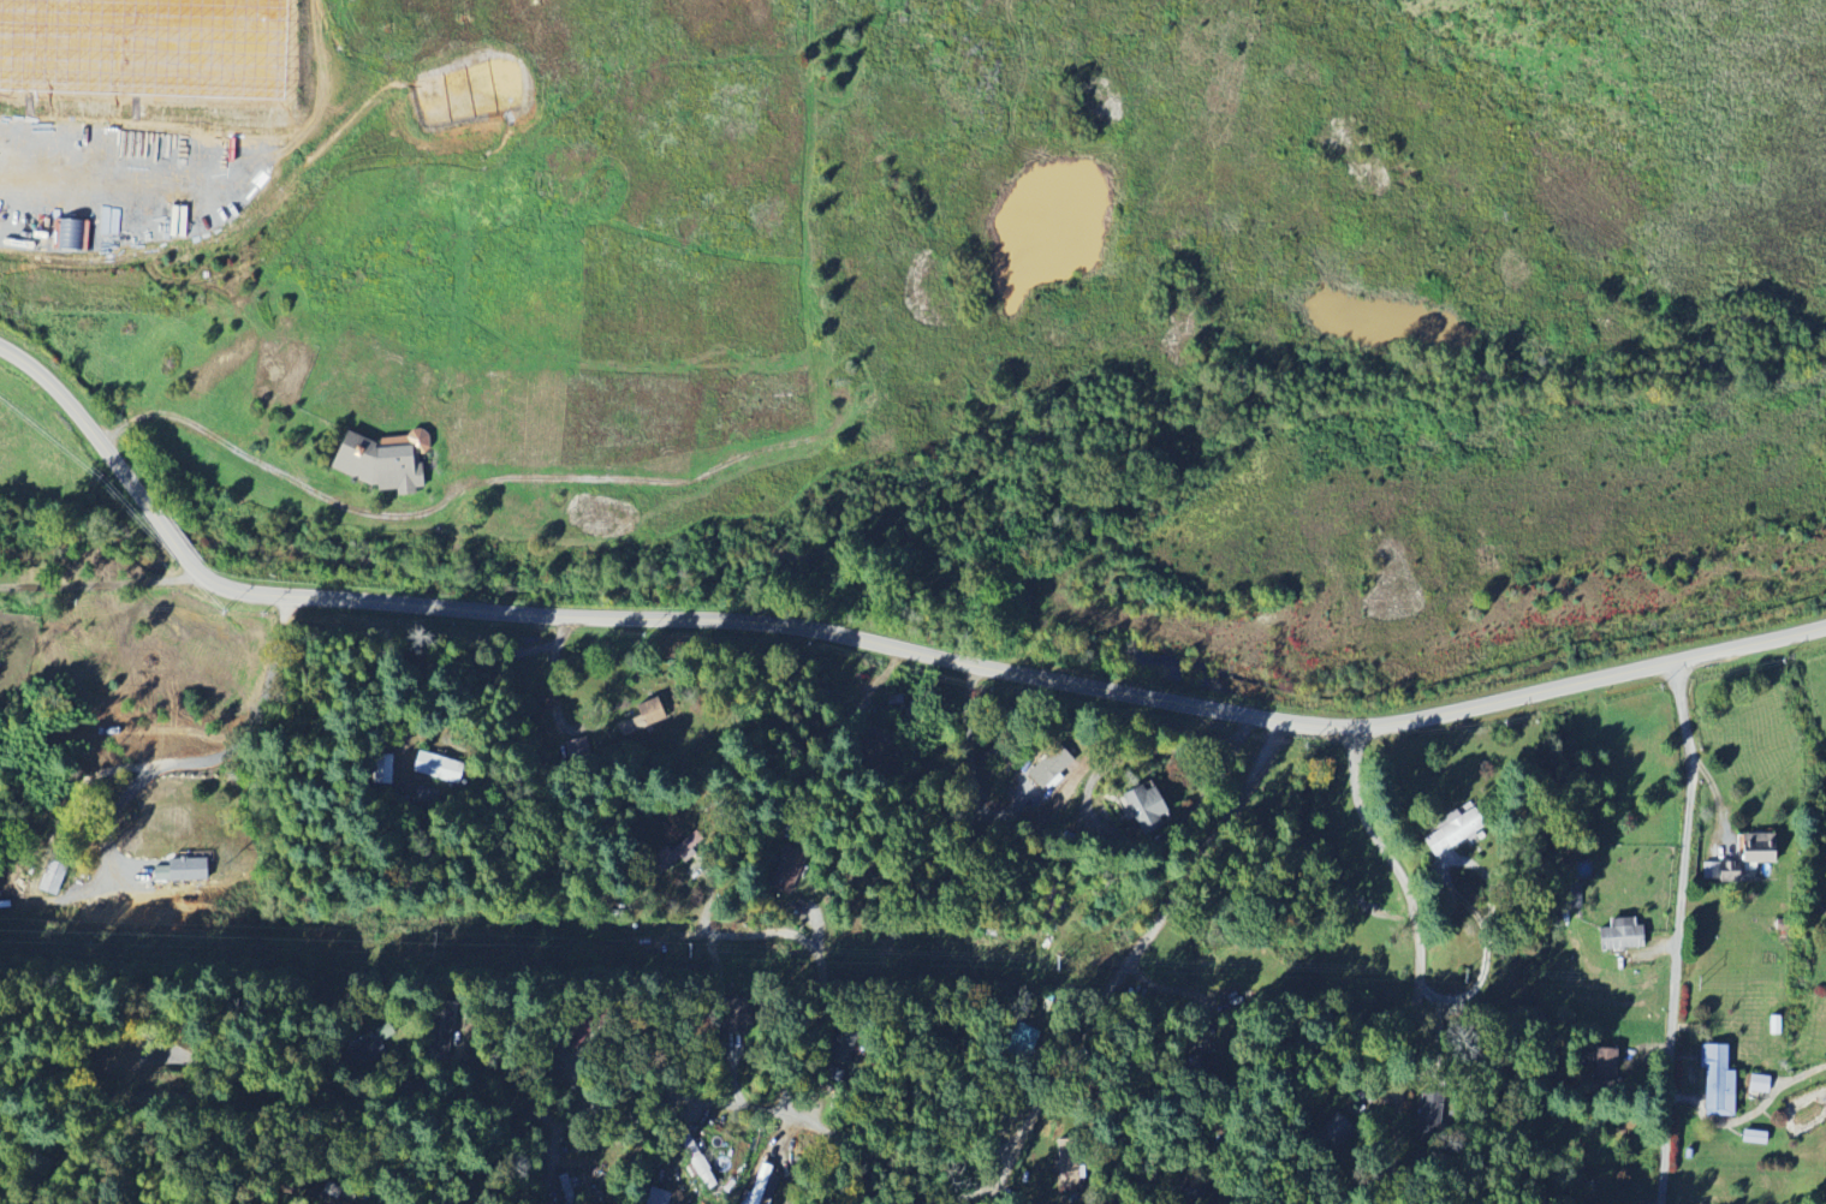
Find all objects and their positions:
road: (87, 424)
road: (173, 538)
road: (100, 582)
road: (453, 656)
road: (1006, 669)
building: (647, 715)
road: (254, 725)
building: (577, 749)
building: (1053, 765)
building: (438, 767)
building: (1150, 809)
building: (1447, 830)
building: (1736, 856)
building: (185, 869)
building: (53, 876)
road: (1678, 932)
road: (724, 935)
road: (1126, 960)
road: (1417, 960)
road: (815, 1024)
road: (406, 1044)
building: (1714, 1080)
building: (1756, 1084)
road: (500, 1105)
building: (1067, 1168)
building: (703, 1170)
building: (564, 1185)
building: (755, 1191)
building: (658, 1197)
road: (1351, 1203)

